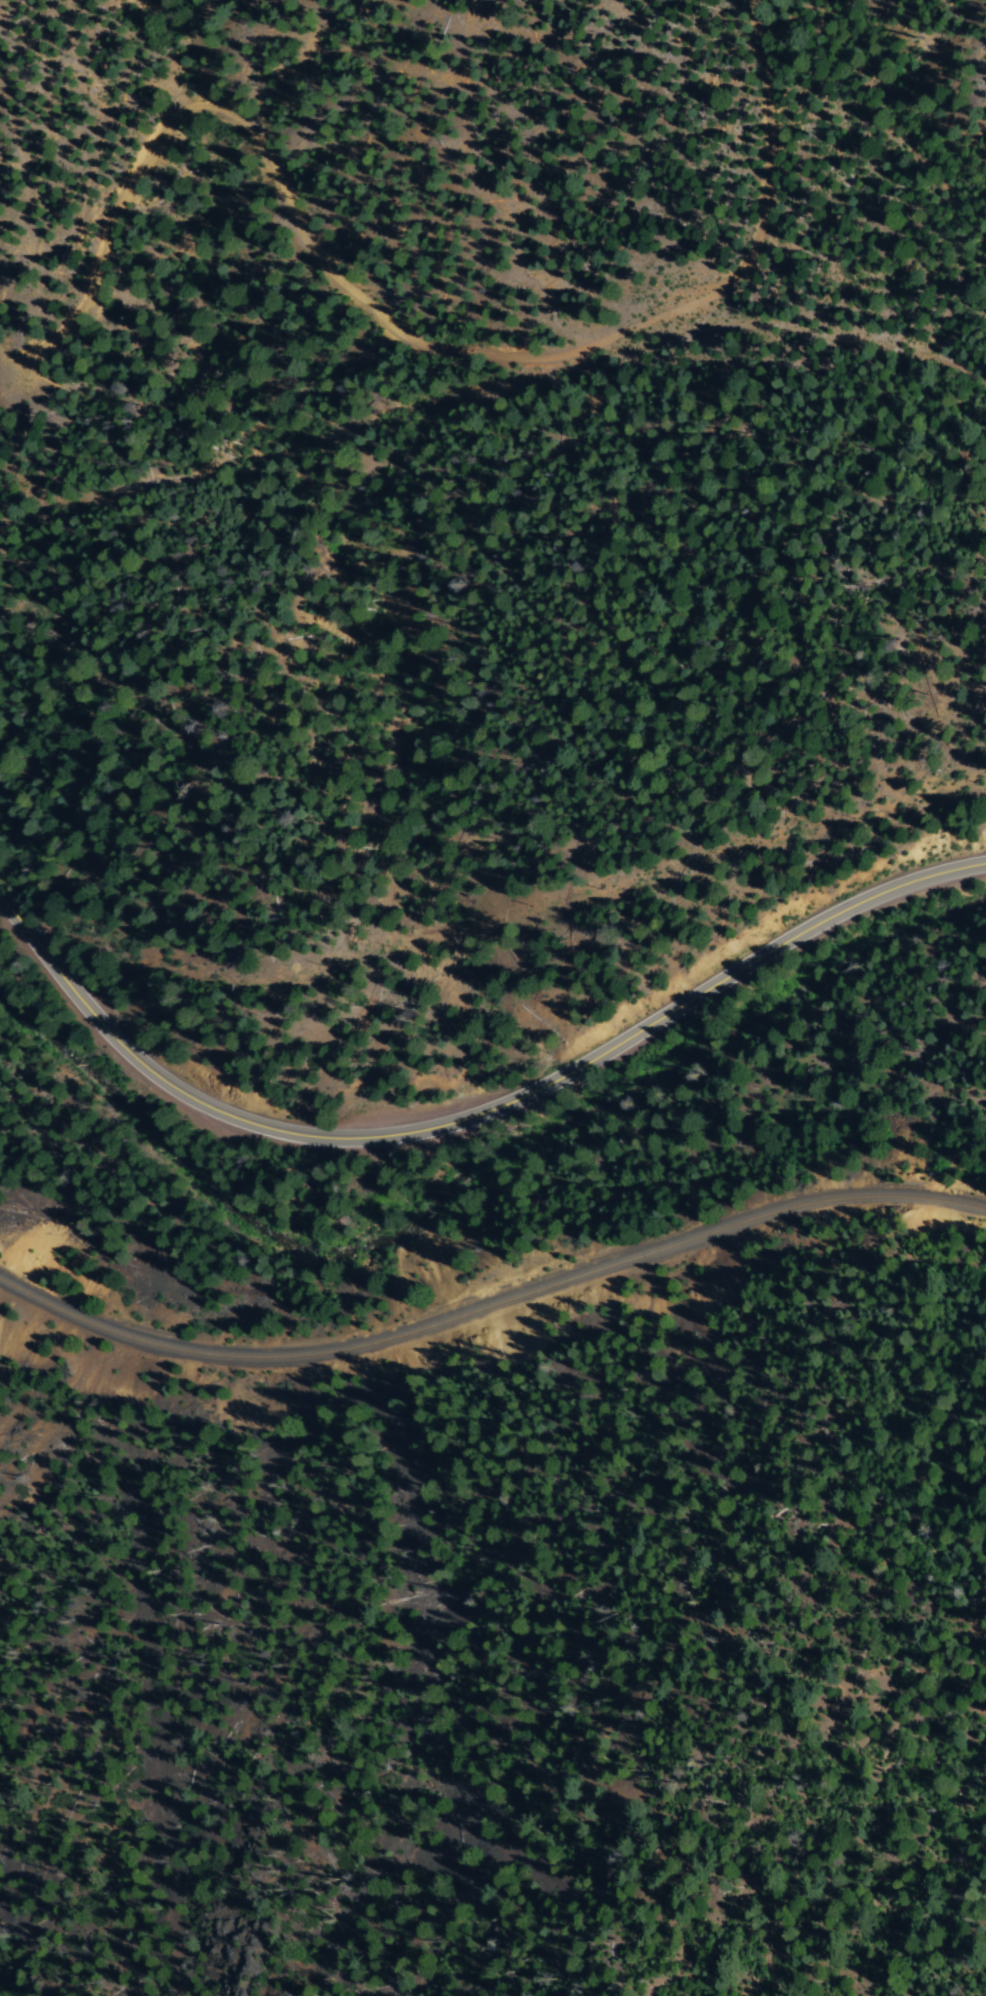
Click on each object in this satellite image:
road: (478, 1118)
railway: (492, 1303)

